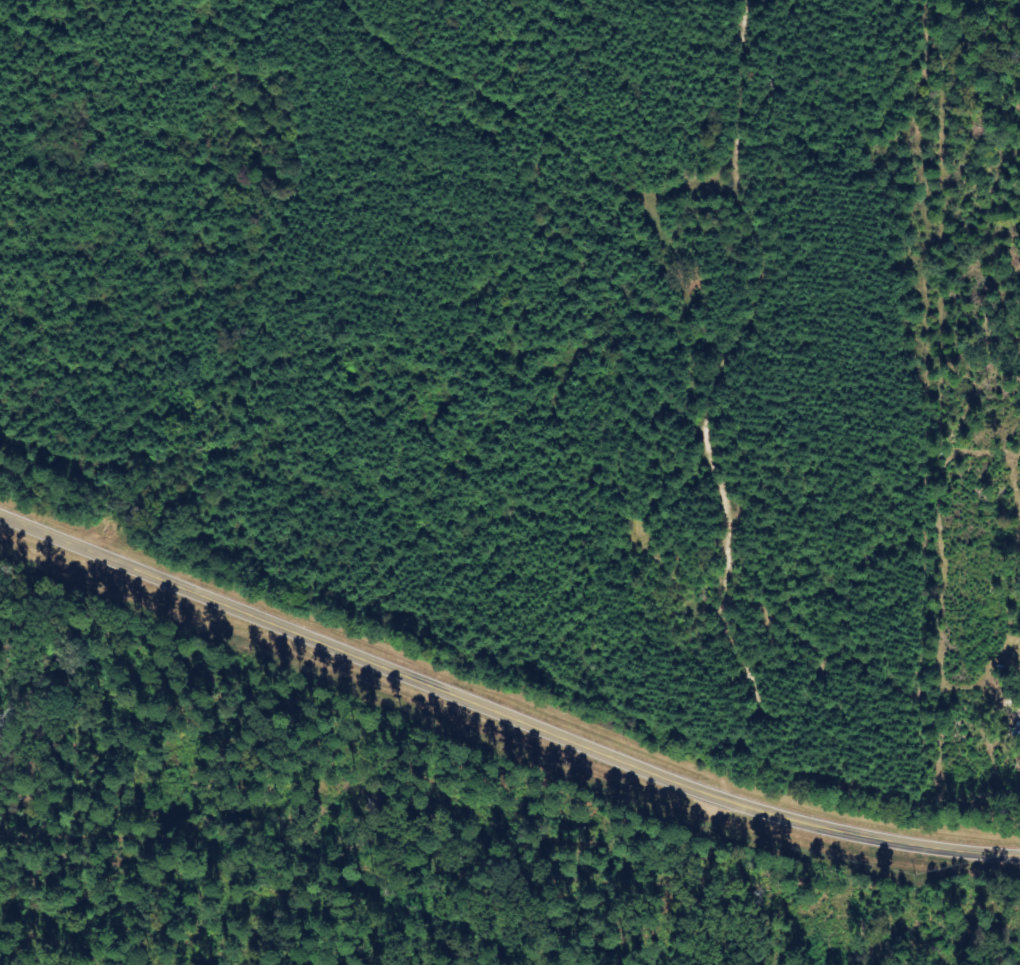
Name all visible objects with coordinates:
park: (9, 546)
road: (502, 713)
road: (199, 833)

